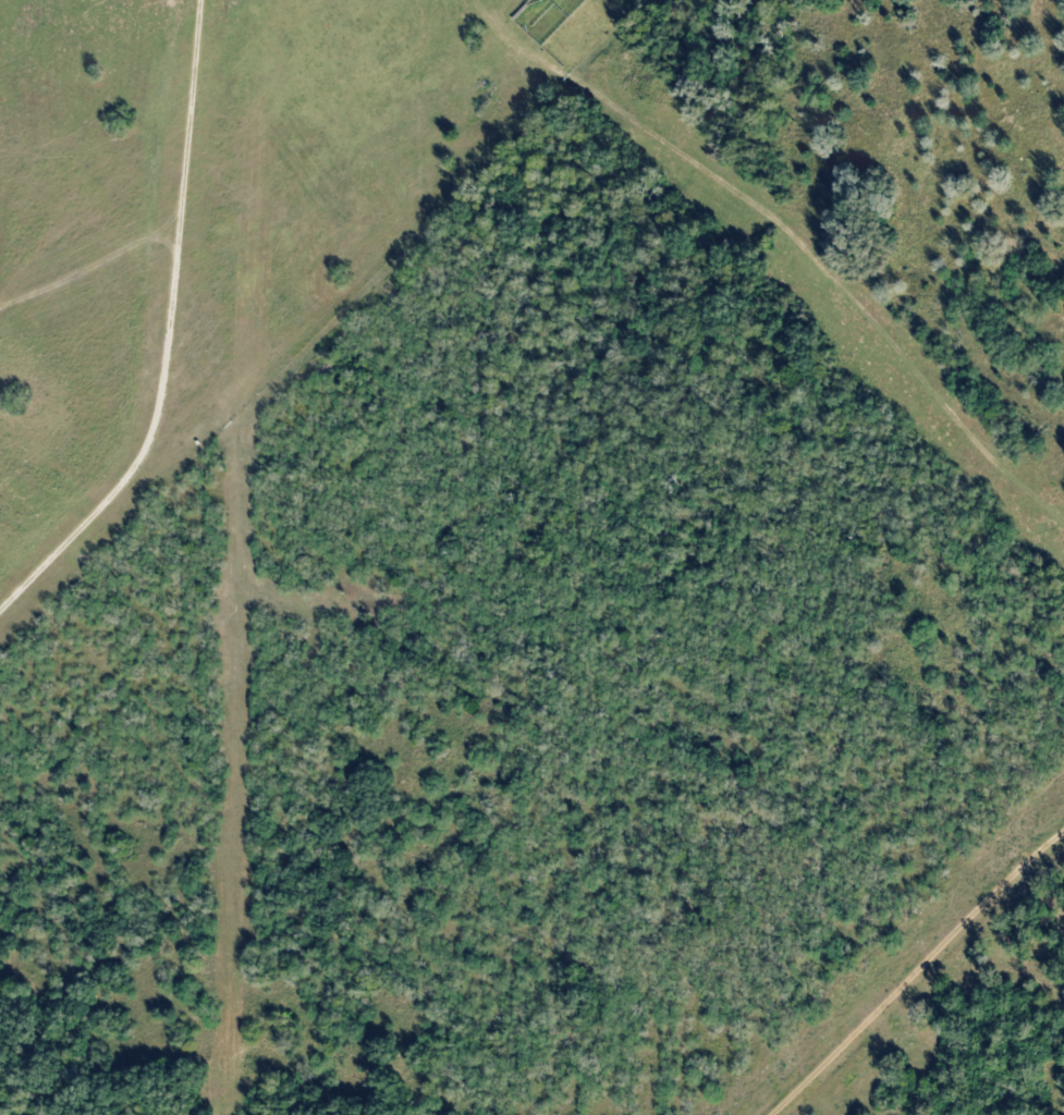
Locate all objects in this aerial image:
road: (169, 333)
road: (912, 972)

